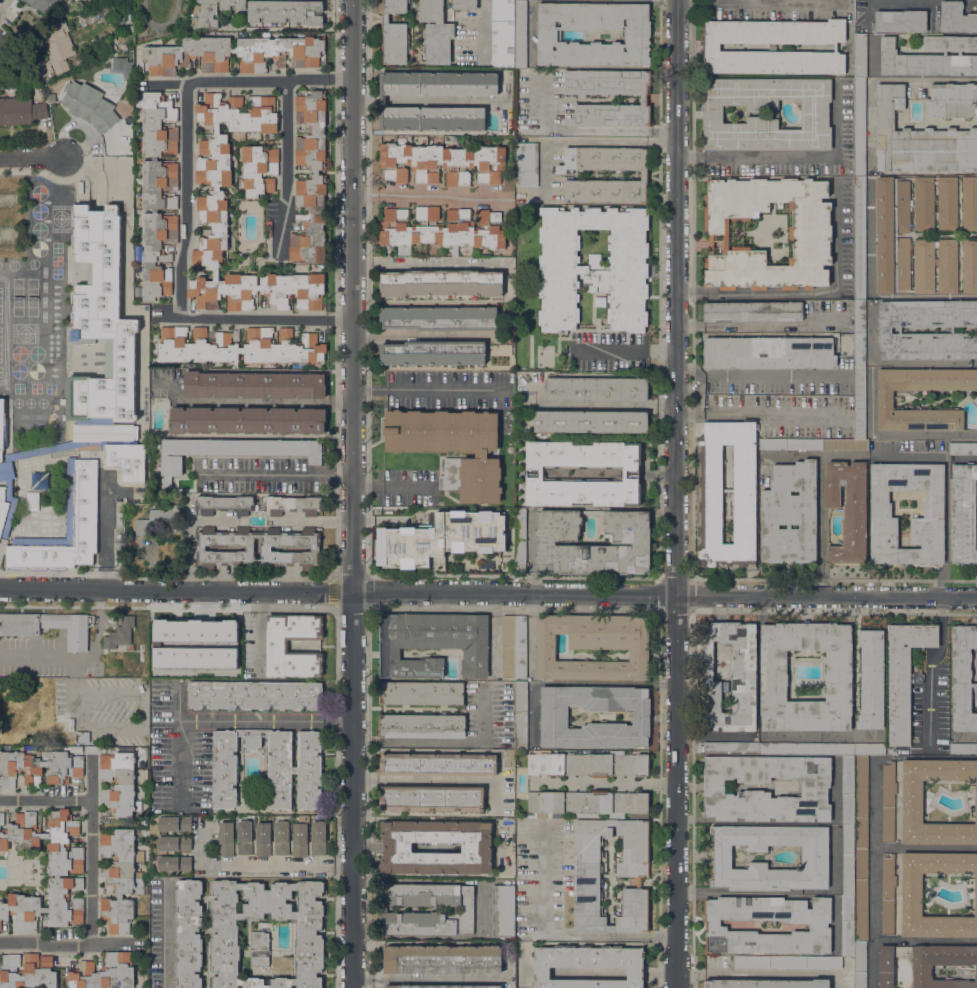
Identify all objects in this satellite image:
road: (764, 3)
building: (42, 4)
building: (463, 4)
building: (213, 11)
building: (286, 11)
building: (956, 17)
building: (899, 21)
road: (482, 26)
building: (435, 31)
building: (394, 33)
building: (502, 33)
building: (520, 33)
building: (637, 33)
building: (711, 47)
building: (55, 48)
building: (859, 55)
building: (168, 56)
building: (930, 57)
building: (50, 85)
building: (52, 98)
building: (643, 99)
building: (952, 100)
building: (382, 101)
building: (89, 106)
building: (20, 111)
building: (814, 114)
building: (859, 127)
road: (586, 128)
building: (918, 140)
road: (587, 141)
road: (797, 155)
road: (31, 159)
building: (442, 163)
building: (525, 164)
road: (286, 167)
building: (259, 170)
building: (643, 177)
building: (310, 180)
road: (60, 183)
building: (158, 194)
road: (428, 196)
building: (947, 203)
building: (969, 203)
road: (185, 204)
building: (211, 204)
building: (923, 204)
building: (902, 206)
building: (440, 229)
building: (884, 234)
building: (809, 237)
building: (859, 238)
road: (430, 263)
building: (903, 263)
building: (924, 266)
building: (947, 266)
building: (969, 266)
building: (593, 267)
building: (440, 283)
road: (816, 293)
road: (924, 294)
building: (599, 301)
building: (752, 311)
road: (166, 318)
building: (439, 318)
road: (760, 324)
building: (889, 330)
building: (859, 333)
road: (419, 336)
building: (237, 346)
road: (607, 346)
road: (660, 346)
building: (768, 352)
building: (433, 353)
building: (119, 358)
building: (140, 365)
road: (762, 375)
building: (253, 385)
road: (422, 387)
building: (596, 390)
building: (885, 399)
road: (253, 403)
building: (859, 403)
road: (615, 405)
road: (756, 407)
building: (246, 420)
building: (590, 422)
building: (1, 426)
road: (892, 434)
building: (789, 444)
building: (844, 444)
building: (451, 447)
building: (962, 448)
building: (232, 451)
road: (336, 456)
road: (965, 459)
building: (630, 473)
road: (266, 476)
road: (341, 480)
road: (393, 485)
road: (354, 493)
road: (681, 494)
building: (710, 494)
building: (81, 498)
building: (223, 505)
building: (293, 505)
building: (847, 510)
building: (880, 510)
building: (964, 513)
building: (789, 514)
building: (485, 515)
building: (159, 519)
road: (821, 526)
building: (407, 530)
road: (104, 532)
building: (431, 532)
building: (519, 538)
building: (486, 539)
building: (441, 542)
building: (640, 543)
building: (381, 546)
building: (458, 547)
building: (315, 548)
building: (485, 548)
building: (407, 563)
road: (369, 591)
road: (336, 593)
road: (488, 594)
building: (47, 626)
road: (259, 630)
road: (336, 630)
building: (120, 634)
building: (221, 641)
building: (432, 643)
building: (276, 646)
building: (508, 646)
building: (520, 646)
building: (593, 646)
road: (46, 655)
building: (744, 662)
building: (143, 673)
building: (904, 674)
building: (963, 678)
building: (773, 679)
building: (871, 679)
building: (421, 693)
building: (254, 695)
road: (178, 701)
building: (31, 713)
building: (553, 714)
building: (520, 716)
road: (225, 718)
building: (60, 724)
building: (71, 725)
building: (421, 726)
road: (774, 735)
building: (78, 736)
road: (447, 740)
building: (730, 748)
building: (806, 748)
building: (869, 748)
building: (962, 748)
building: (438, 764)
building: (586, 764)
building: (39, 766)
building: (269, 767)
road: (438, 781)
road: (604, 781)
building: (118, 783)
building: (814, 789)
building: (848, 789)
building: (431, 798)
building: (861, 800)
building: (888, 802)
building: (911, 802)
building: (585, 803)
road: (874, 803)
building: (1, 819)
building: (171, 824)
building: (244, 837)
building: (281, 838)
building: (318, 838)
building: (225, 839)
building: (263, 839)
building: (299, 839)
building: (174, 843)
building: (476, 847)
building: (814, 857)
building: (848, 859)
road: (260, 862)
building: (174, 863)
building: (66, 870)
road: (89, 870)
building: (632, 874)
building: (119, 878)
road: (787, 892)
building: (861, 895)
building: (887, 895)
building: (911, 895)
building: (425, 909)
building: (503, 910)
building: (818, 925)
building: (847, 925)
building: (188, 933)
road: (168, 934)
building: (225, 934)
road: (556, 936)
building: (258, 948)
building: (442, 959)
building: (786, 962)
building: (859, 964)
building: (927, 964)
building: (588, 965)
building: (27, 972)
building: (103, 972)
road: (762, 973)
road: (427, 978)
building: (765, 983)
building: (438, 986)

